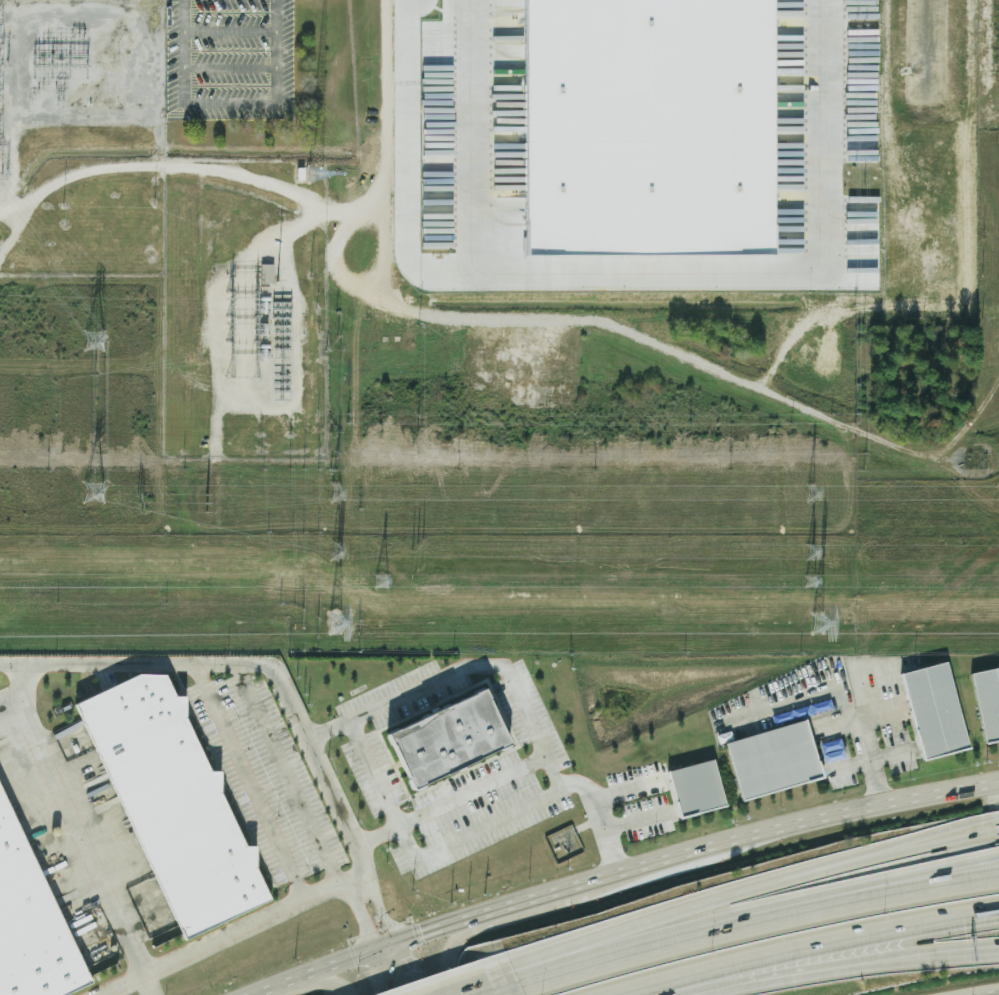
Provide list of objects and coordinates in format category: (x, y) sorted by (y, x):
road: (231, 31)
road: (231, 68)
power tower: (60, 101)
road: (231, 103)
building: (647, 127)
road: (387, 129)
power substation: (167, 226)
power plant: (501, 234)
road: (385, 237)
building: (268, 272)
road: (648, 275)
power tower: (95, 341)
road: (652, 345)
road: (786, 346)
power tower: (95, 493)
power tower: (334, 493)
power tower: (811, 494)
power tower: (140, 502)
power tower: (207, 503)
power tower: (812, 551)
power tower: (334, 552)
power tower: (810, 581)
power tower: (381, 582)
power tower: (818, 625)
power tower: (336, 626)
road: (12, 663)
road: (24, 666)
road: (455, 672)
building: (990, 702)
building: (939, 711)
road: (838, 721)
road: (860, 723)
building: (456, 740)
building: (779, 761)
road: (250, 782)
building: (701, 789)
road: (452, 800)
building: (179, 803)
road: (790, 826)
road: (887, 845)
road: (421, 855)
road: (889, 856)
road: (894, 878)
road: (360, 881)
road: (363, 886)
road: (896, 896)
road: (524, 904)
building: (33, 920)
traffic signals: (365, 922)
road: (645, 923)
road: (249, 926)
traffic signals: (419, 930)
road: (807, 946)
traffic signals: (400, 948)
road: (658, 948)
road: (352, 952)
road: (937, 954)
road: (446, 955)
road: (937, 959)
road: (408, 966)
road: (381, 970)
road: (784, 975)
road: (332, 978)
road: (470, 980)
road: (121, 985)
road: (146, 985)
road: (515, 992)

